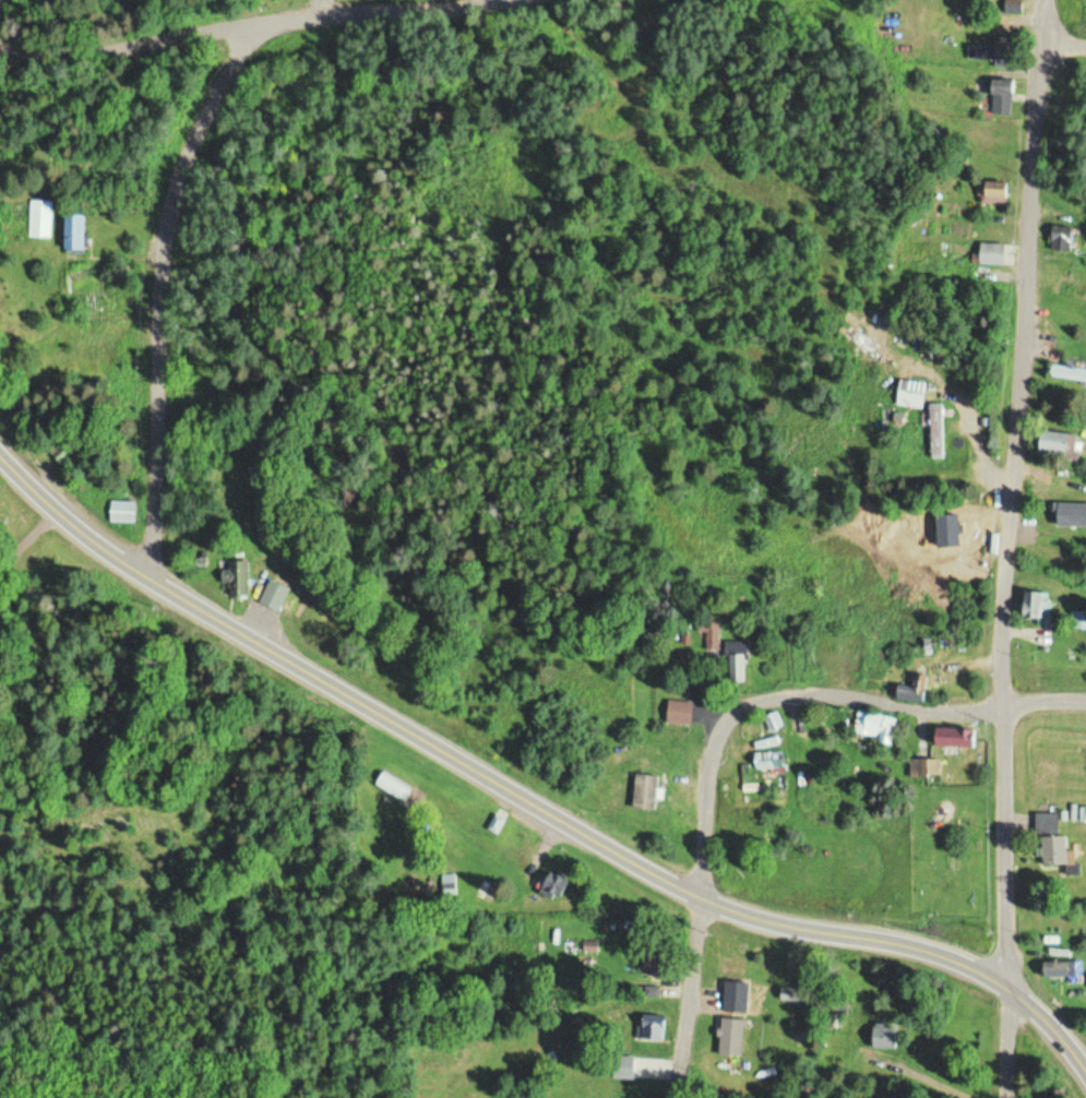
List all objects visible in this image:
road: (228, 32)
road: (1064, 43)
building: (992, 55)
building: (1002, 95)
building: (994, 193)
building: (40, 218)
building: (75, 232)
building: (1063, 238)
building: (993, 253)
road: (166, 290)
building: (1067, 372)
building: (941, 430)
building: (1058, 442)
road: (1012, 548)
building: (235, 578)
building: (275, 595)
building: (1038, 608)
building: (713, 635)
building: (738, 663)
building: (919, 690)
road: (811, 701)
building: (682, 713)
building: (876, 726)
building: (958, 738)
building: (771, 762)
building: (924, 768)
building: (647, 791)
road: (530, 800)
building: (1053, 843)
building: (551, 884)
building: (656, 966)
building: (1060, 968)
building: (796, 995)
road: (684, 999)
building: (652, 1027)
building: (886, 1037)
building: (733, 1038)
building: (575, 1050)
building: (626, 1066)

